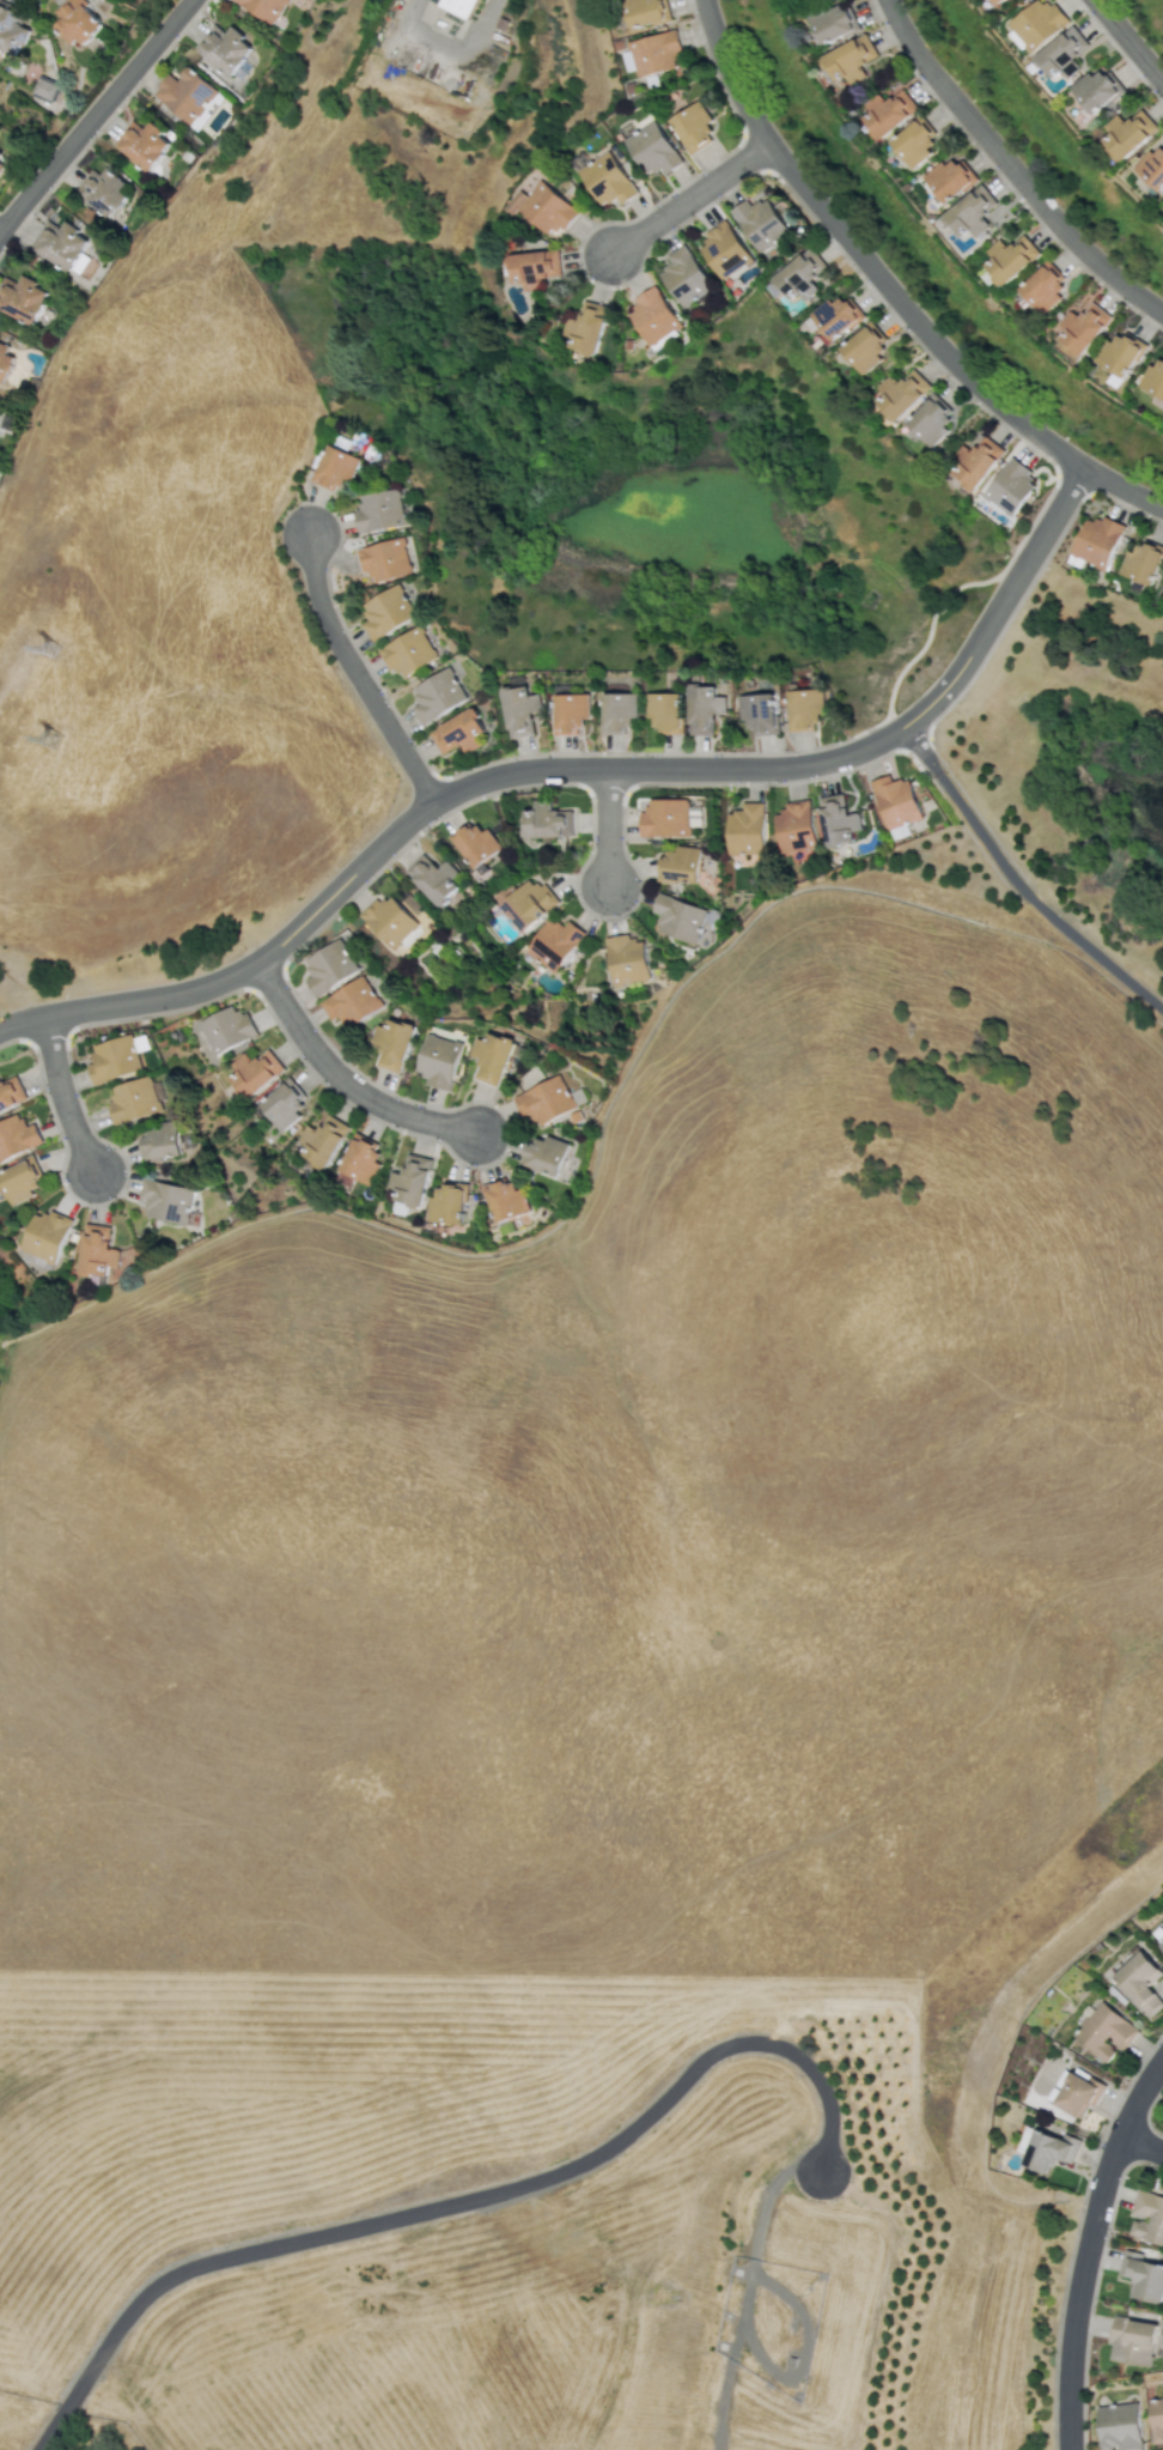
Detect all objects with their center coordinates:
building: (993, 1)
building: (461, 5)
building: (267, 7)
building: (645, 11)
building: (77, 22)
building: (833, 22)
building: (1035, 23)
building: (10, 30)
road: (1127, 41)
building: (225, 48)
road: (449, 51)
building: (656, 53)
building: (1061, 53)
building: (850, 60)
building: (1095, 90)
building: (42, 91)
building: (187, 93)
building: (887, 113)
road: (93, 114)
building: (692, 126)
building: (1128, 133)
building: (913, 141)
building: (146, 146)
building: (651, 148)
building: (2, 158)
building: (1152, 166)
road: (1010, 169)
building: (605, 178)
building: (950, 178)
building: (104, 192)
road: (688, 198)
building: (543, 207)
building: (970, 212)
building: (759, 223)
building: (65, 247)
building: (721, 249)
building: (1010, 257)
building: (534, 267)
building: (800, 274)
building: (683, 277)
building: (1042, 287)
road: (890, 291)
building: (23, 298)
building: (652, 315)
building: (835, 317)
building: (1082, 326)
building: (586, 327)
building: (864, 348)
building: (1120, 353)
building: (5, 362)
building: (1155, 376)
building: (900, 393)
building: (930, 420)
building: (975, 460)
building: (334, 467)
building: (1010, 487)
building: (379, 510)
road: (1047, 523)
building: (1096, 540)
building: (384, 559)
building: (1141, 562)
building: (385, 611)
road: (930, 629)
power tower: (55, 642)
building: (407, 651)
road: (964, 659)
road: (354, 672)
building: (436, 695)
building: (804, 708)
building: (518, 709)
building: (704, 709)
building: (664, 710)
building: (570, 711)
building: (617, 711)
building: (759, 711)
power tower: (53, 732)
building: (457, 732)
road: (669, 768)
building: (895, 801)
building: (668, 818)
building: (544, 820)
building: (836, 820)
road: (607, 826)
building: (744, 829)
building: (794, 830)
building: (475, 843)
building: (678, 865)
building: (432, 878)
road: (1016, 883)
building: (524, 903)
building: (677, 917)
building: (388, 920)
building: (552, 944)
building: (625, 958)
road: (243, 966)
building: (330, 966)
building: (352, 1001)
building: (226, 1029)
building: (392, 1043)
building: (491, 1057)
building: (114, 1059)
building: (439, 1061)
building: (254, 1072)
road: (342, 1080)
building: (10, 1092)
road: (61, 1094)
building: (133, 1099)
building: (544, 1099)
building: (282, 1104)
building: (16, 1136)
building: (321, 1140)
building: (159, 1141)
building: (543, 1154)
building: (359, 1159)
building: (409, 1179)
building: (19, 1182)
building: (164, 1200)
building: (504, 1200)
building: (445, 1203)
building: (44, 1235)
building: (96, 1250)
building: (1159, 1942)
building: (1138, 1981)
building: (1102, 2031)
road: (1140, 2143)
building: (1047, 2149)
road: (458, 2208)
building: (1147, 2215)
road: (1088, 2245)
building: (1141, 2276)
building: (1128, 2336)
building: (1143, 2355)
building: (1155, 2419)
building: (1118, 2426)

